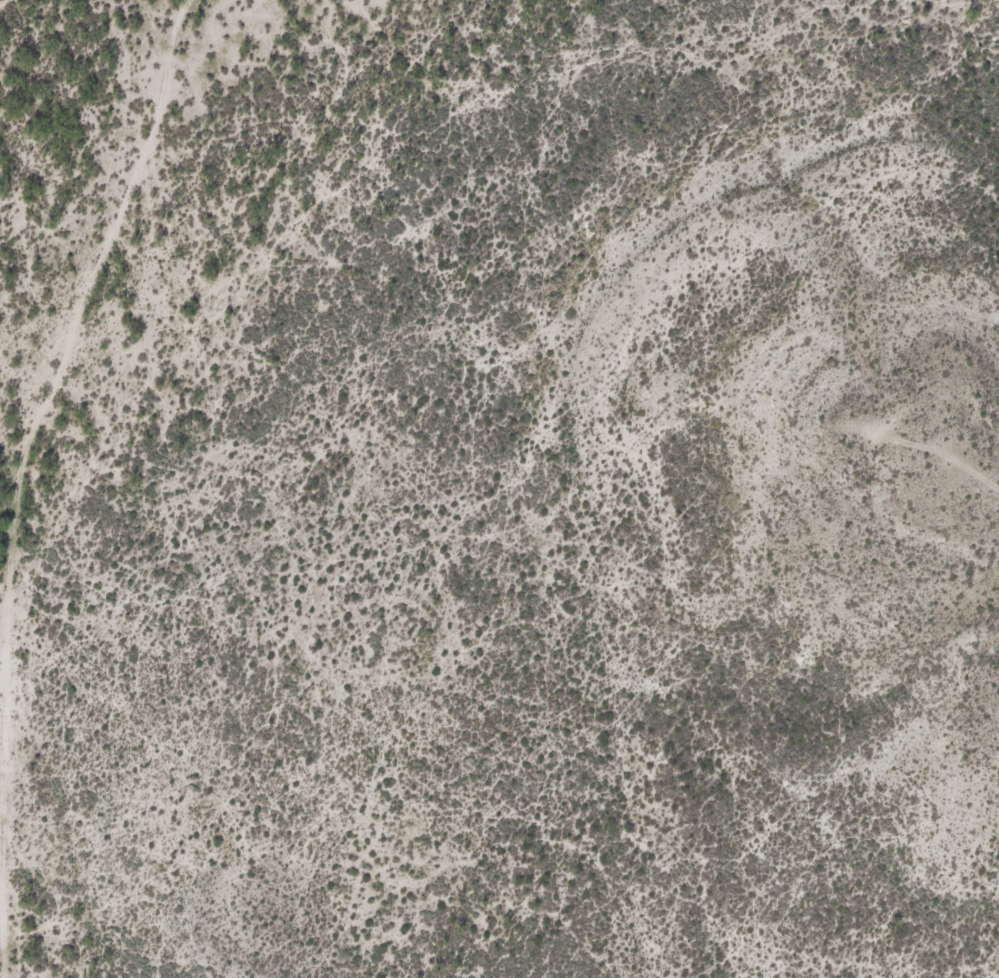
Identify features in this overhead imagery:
road: (37, 474)

